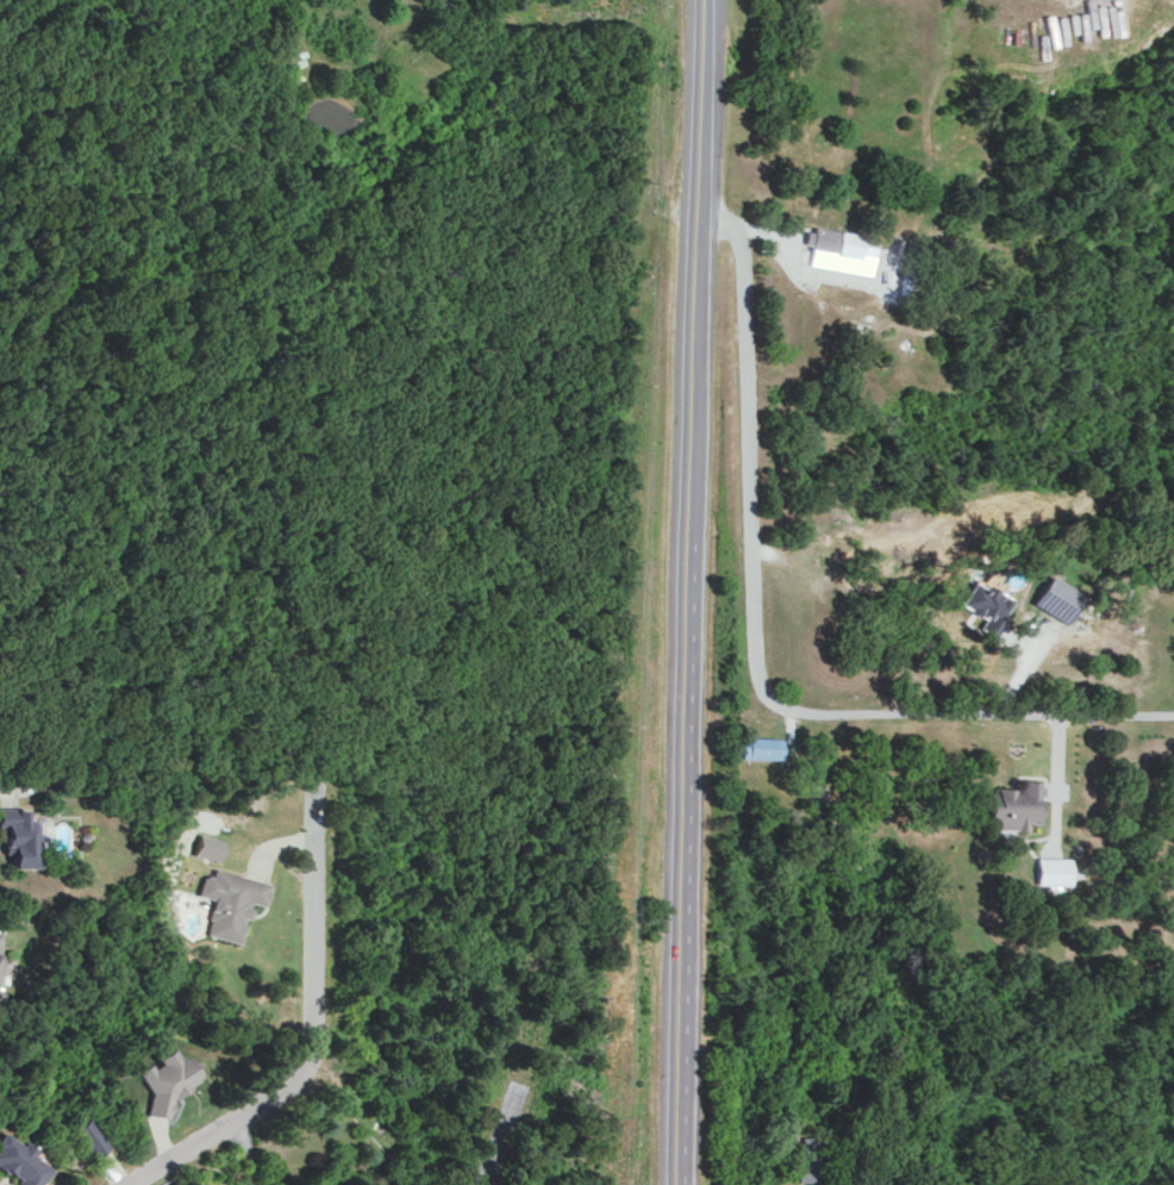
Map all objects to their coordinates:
road: (706, 25)
building: (832, 247)
building: (1055, 597)
building: (985, 604)
road: (694, 618)
road: (754, 654)
building: (758, 747)
building: (1016, 804)
building: (15, 836)
building: (206, 846)
building: (1051, 869)
building: (226, 900)
road: (312, 1011)
building: (163, 1083)
building: (89, 1135)
road: (497, 1143)
building: (810, 1159)
building: (20, 1161)
road: (157, 1167)

